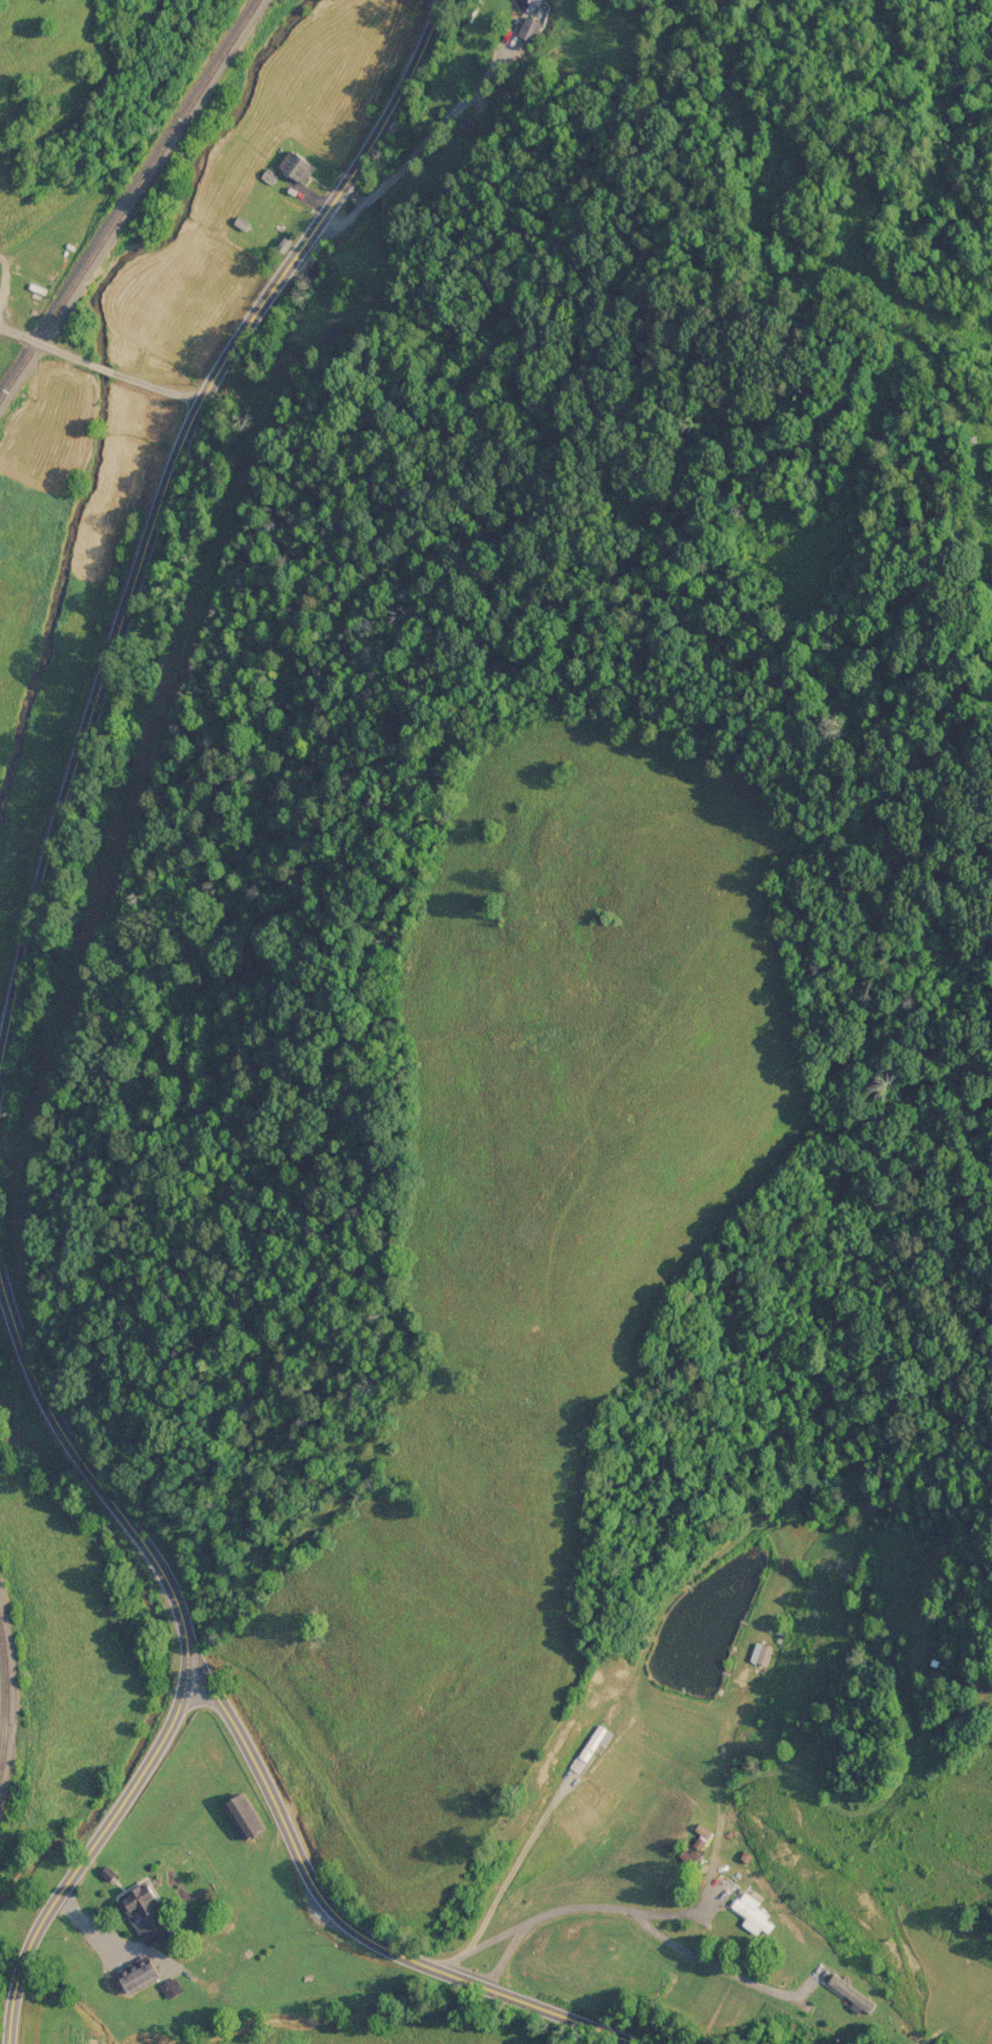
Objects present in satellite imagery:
building: (295, 166)
railway: (128, 196)
road: (101, 363)
river: (109, 384)
road: (161, 515)
road: (193, 1650)
building: (760, 1652)
railway: (4, 1702)
building: (587, 1748)
building: (239, 1814)
building: (693, 1843)
building: (136, 1898)
building: (752, 1913)
road: (360, 1931)
building: (127, 1977)
building: (848, 1991)

